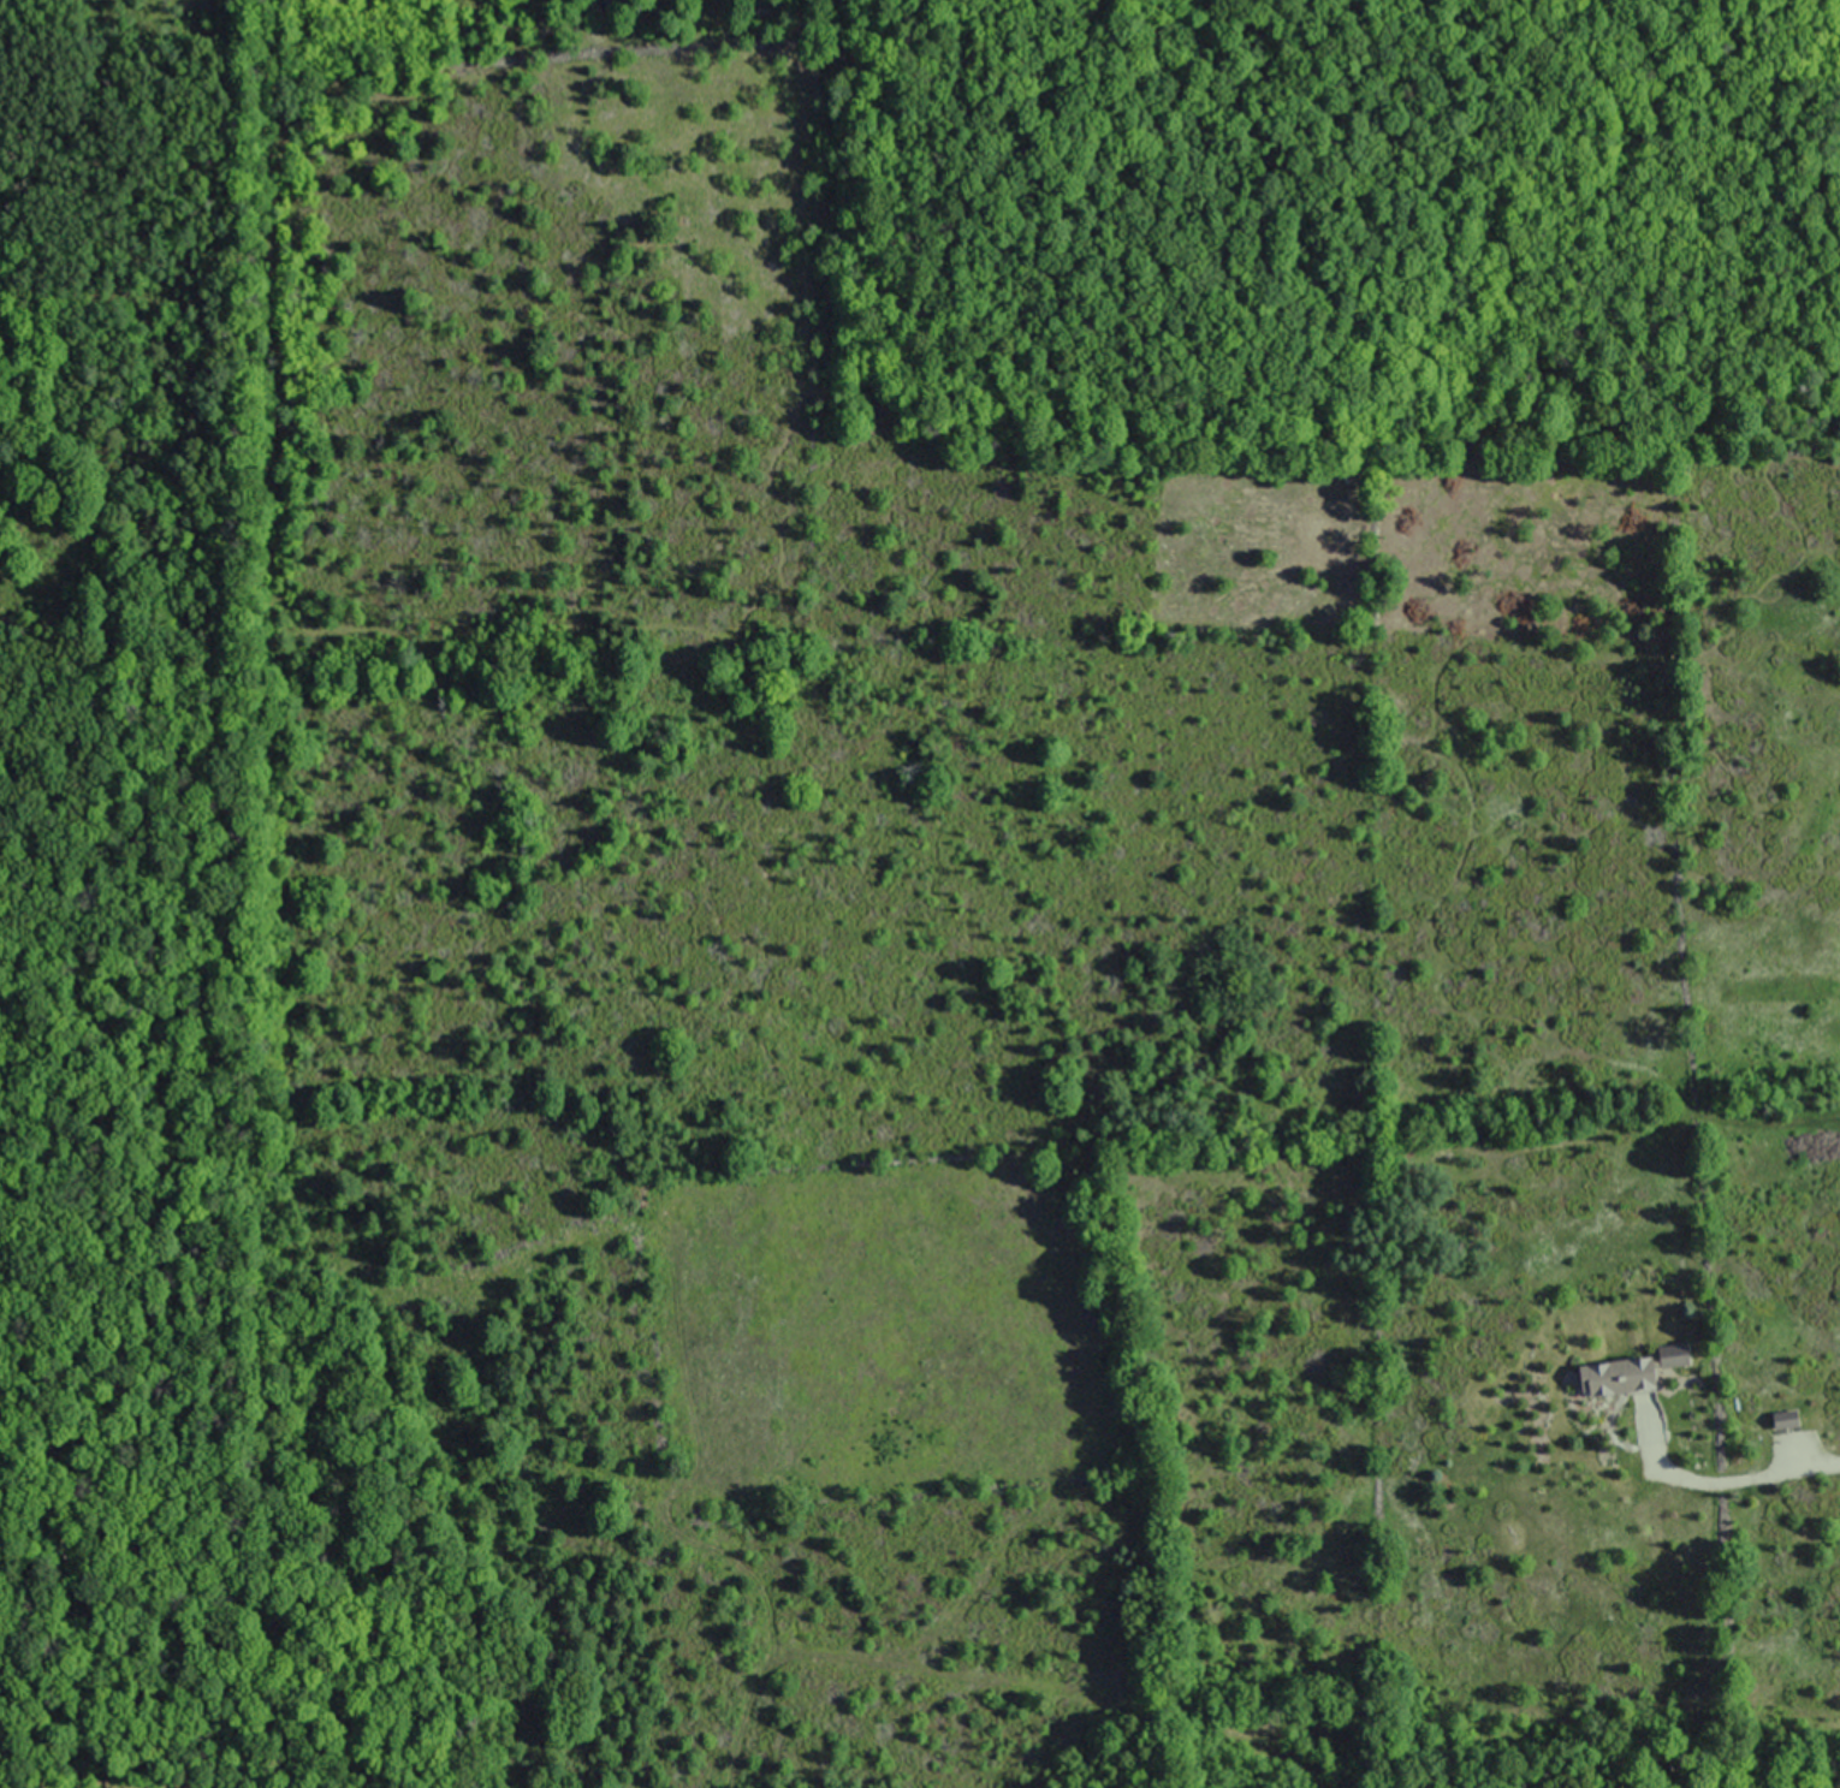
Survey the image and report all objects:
building: (1624, 1371)
building: (1781, 1419)
road: (1731, 1483)

